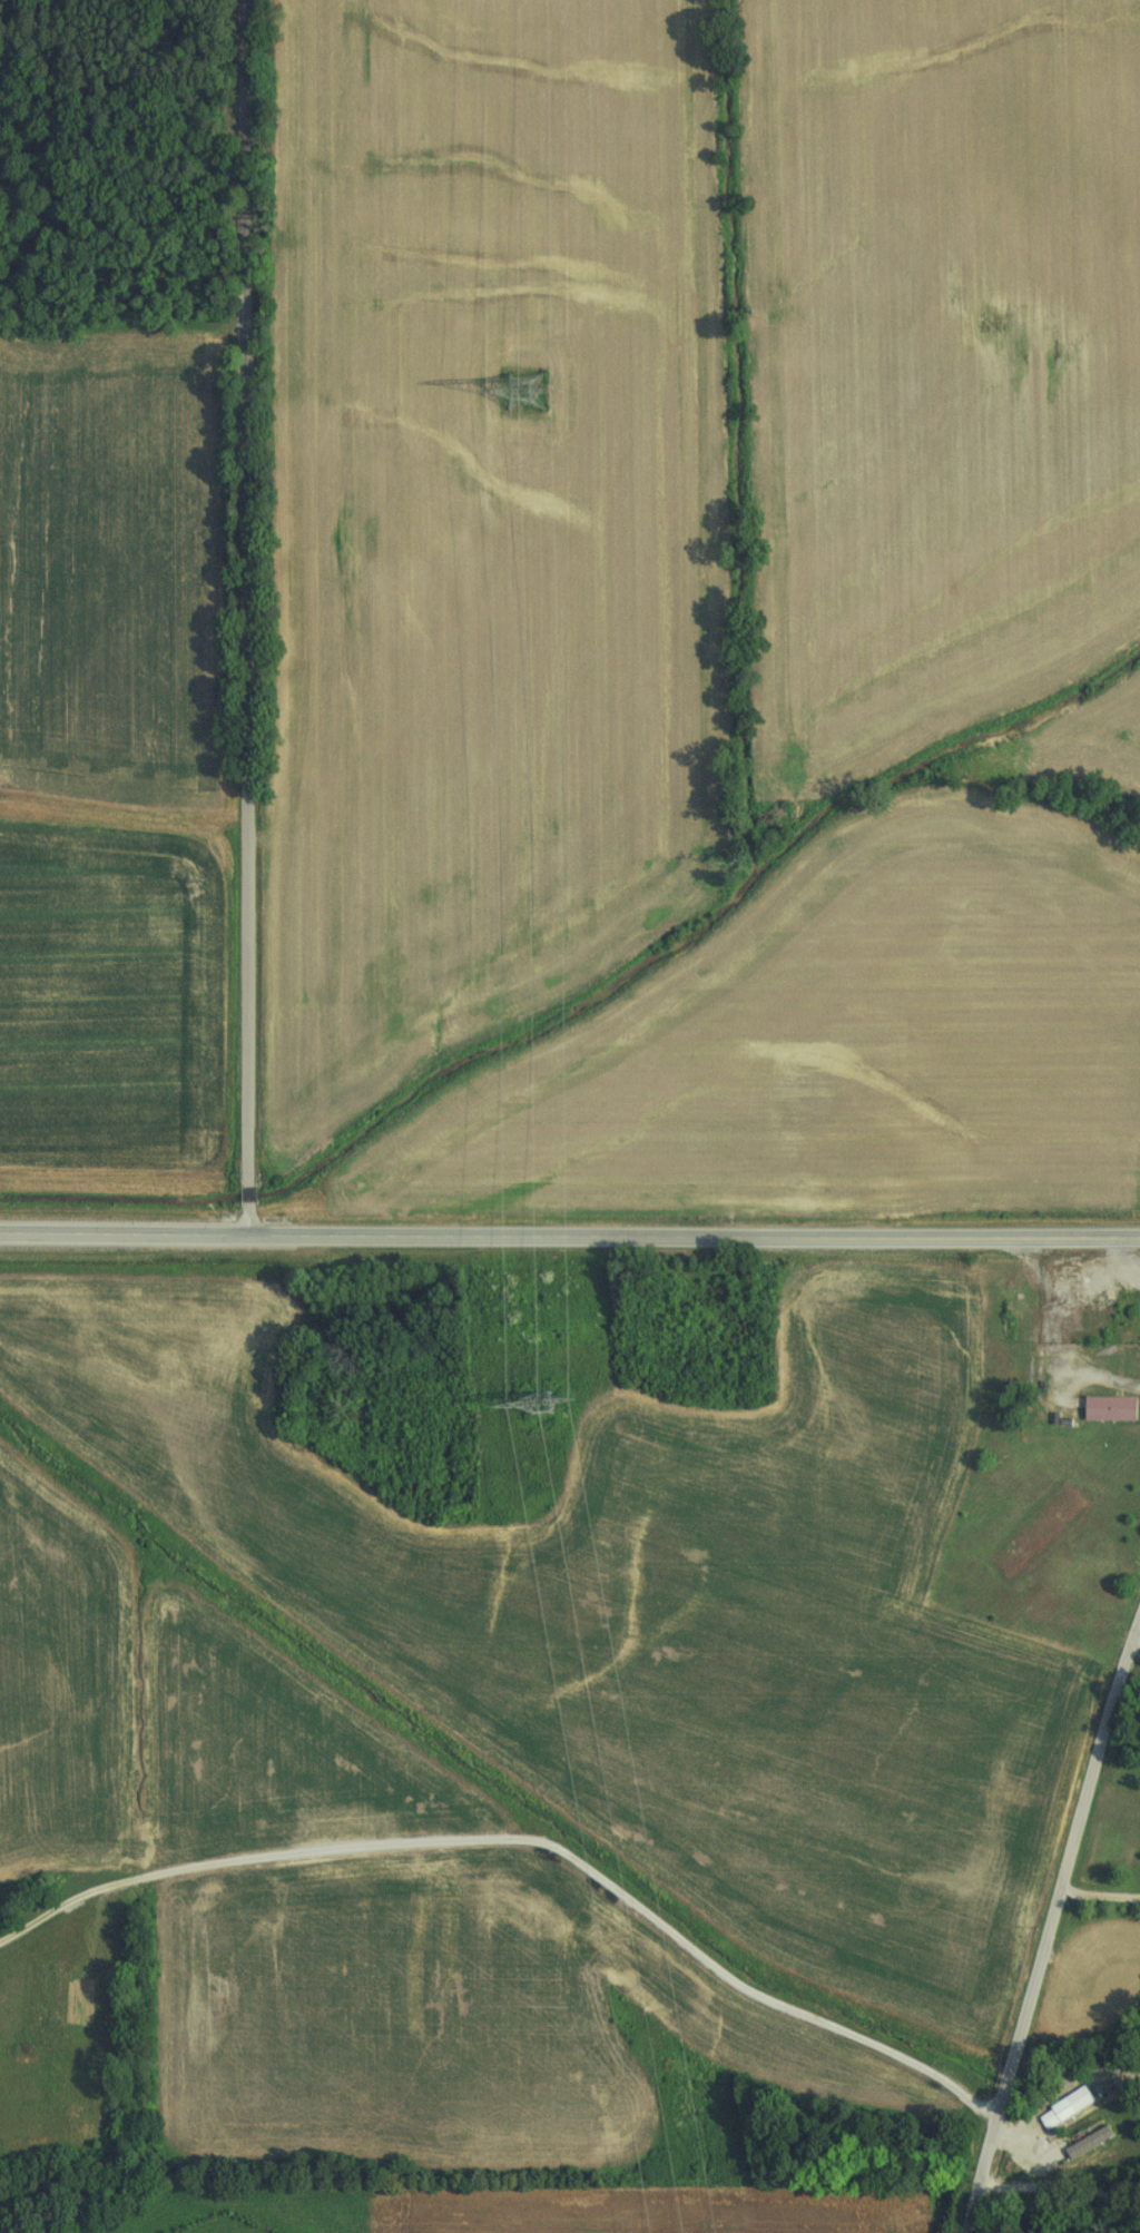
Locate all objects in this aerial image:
road: (119, 128)
power tower: (524, 392)
road: (242, 618)
road: (570, 1239)
road: (1058, 1338)
power tower: (549, 1404)
building: (1109, 1408)
road: (532, 1840)
road: (1101, 1898)
road: (1052, 1927)
building: (1062, 2106)
building: (1084, 2139)
road: (1069, 2165)

